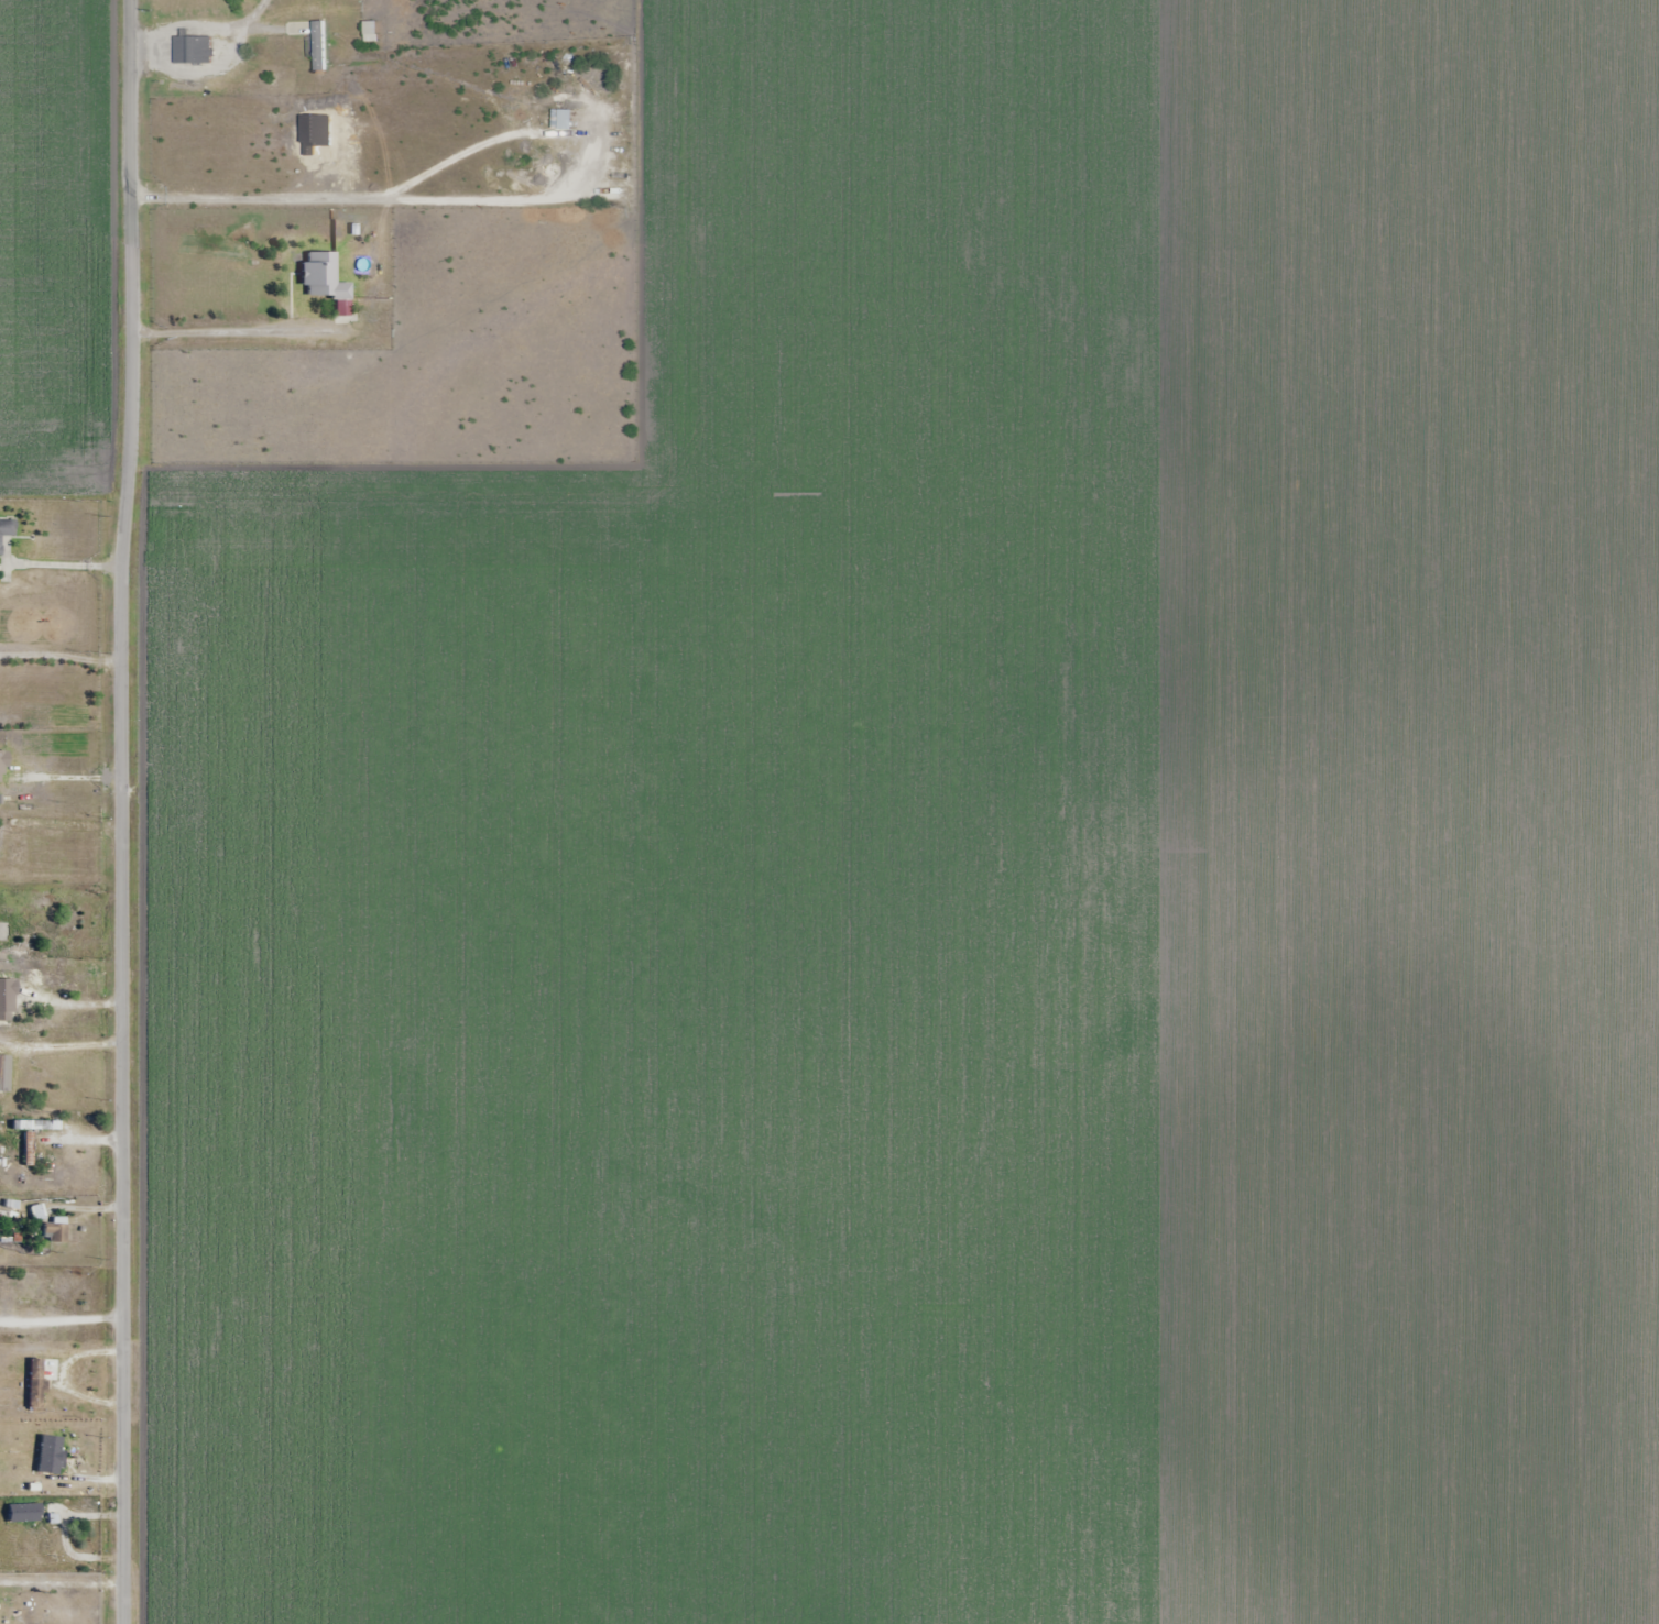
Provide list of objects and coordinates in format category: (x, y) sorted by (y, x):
building: (373, 30)
building: (318, 41)
building: (195, 50)
building: (569, 119)
building: (323, 276)
building: (7, 529)
road: (61, 569)
road: (122, 812)
building: (36, 951)
building: (14, 1001)
building: (1, 1054)
building: (35, 1126)
building: (55, 1231)
building: (36, 1384)
building: (44, 1535)

